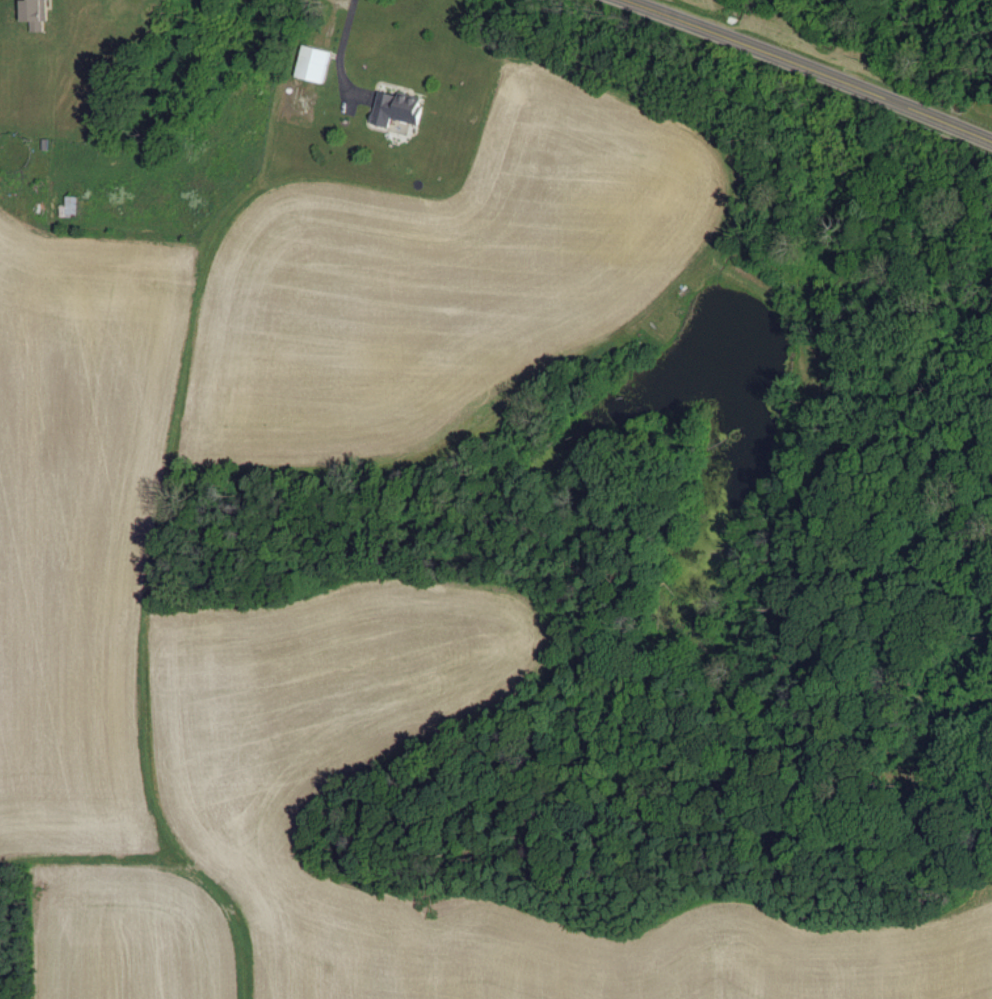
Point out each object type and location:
building: (37, 14)
road: (337, 49)
building: (315, 64)
road: (805, 69)
building: (398, 109)

